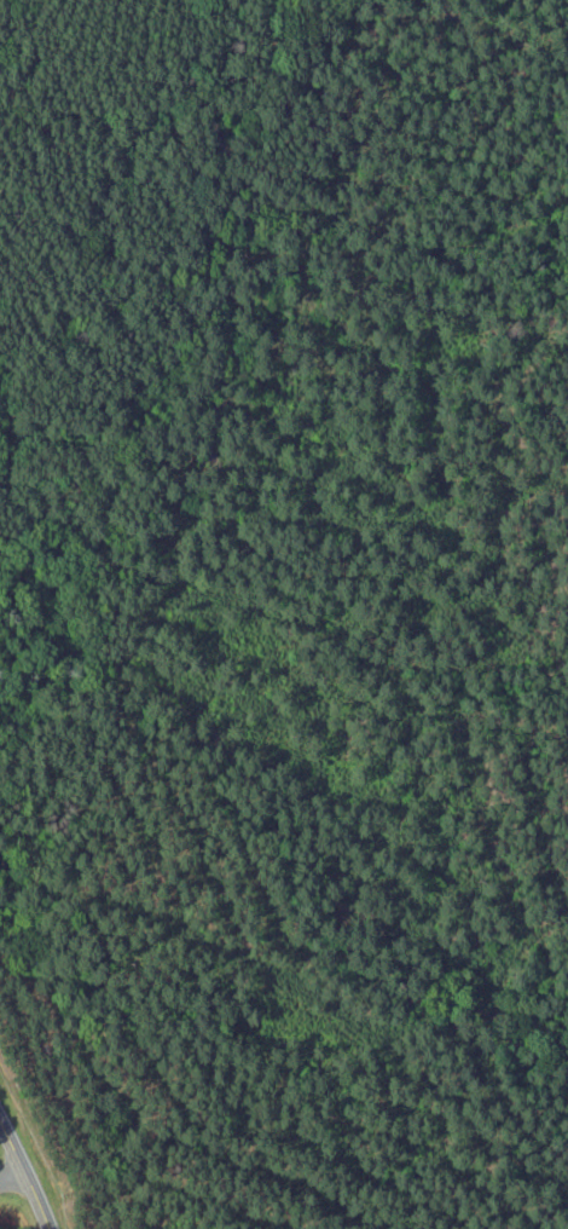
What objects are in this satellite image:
road: (11, 1173)
road: (25, 1175)

